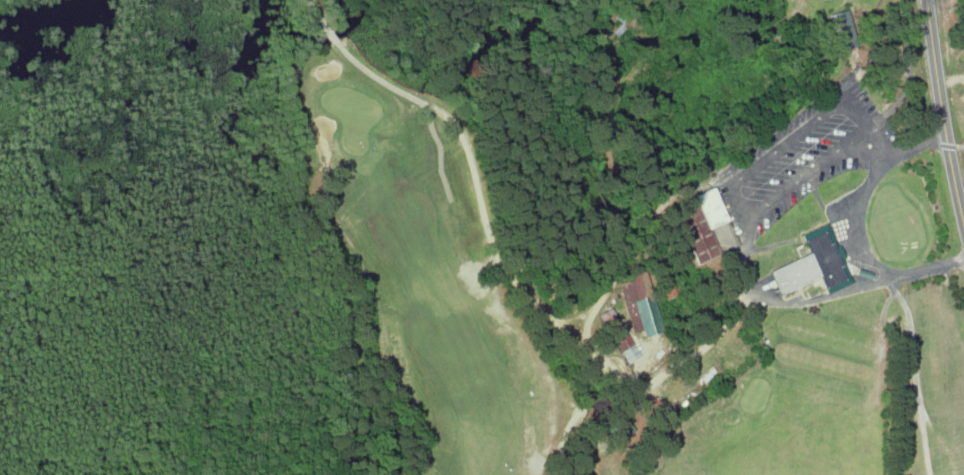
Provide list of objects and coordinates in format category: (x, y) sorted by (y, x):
building: (841, 29)
road: (942, 114)
building: (710, 207)
building: (696, 231)
building: (808, 266)
building: (640, 304)
building: (618, 334)

